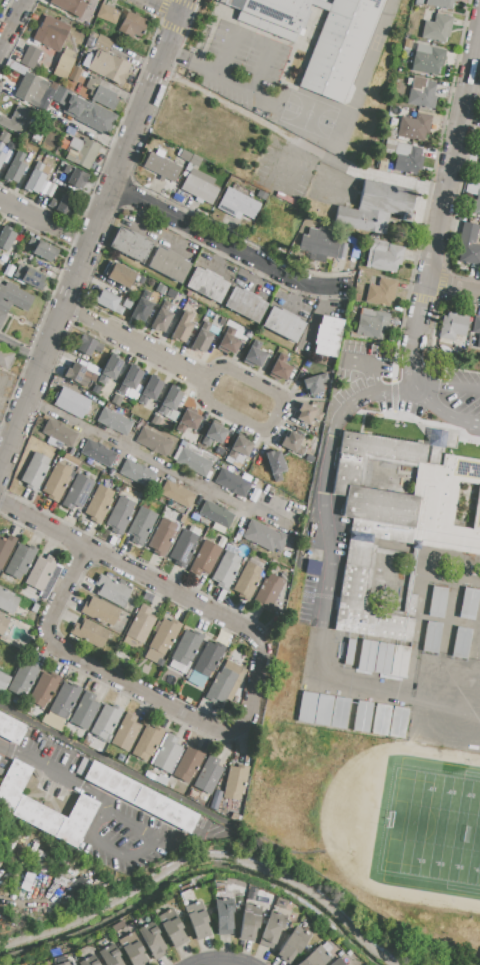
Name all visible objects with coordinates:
building: (440, 4)
building: (70, 6)
road: (164, 8)
building: (107, 13)
road: (12, 23)
building: (132, 24)
building: (437, 28)
building: (51, 33)
building: (317, 36)
road: (255, 41)
building: (407, 43)
building: (103, 44)
building: (30, 58)
road: (183, 60)
building: (428, 60)
building: (64, 63)
building: (15, 66)
building: (109, 68)
building: (75, 74)
road: (227, 83)
building: (52, 86)
building: (31, 89)
building: (100, 92)
building: (421, 93)
building: (86, 112)
road: (351, 117)
building: (17, 120)
building: (414, 127)
building: (70, 131)
building: (3, 139)
building: (389, 146)
building: (83, 152)
building: (184, 155)
building: (1, 157)
building: (407, 159)
building: (195, 160)
road: (455, 162)
building: (382, 166)
building: (14, 167)
building: (161, 167)
building: (75, 177)
building: (479, 177)
building: (34, 178)
building: (199, 185)
building: (470, 188)
building: (476, 203)
building: (237, 204)
building: (62, 206)
building: (372, 206)
road: (44, 223)
road: (94, 234)
building: (6, 238)
building: (319, 243)
building: (129, 244)
building: (468, 245)
road: (230, 247)
building: (42, 249)
building: (384, 255)
building: (169, 264)
building: (119, 274)
building: (30, 278)
building: (141, 280)
building: (207, 284)
road: (455, 287)
building: (160, 289)
building: (381, 292)
building: (12, 299)
building: (107, 302)
building: (127, 303)
building: (245, 304)
building: (141, 306)
building: (162, 318)
road: (422, 318)
building: (372, 323)
building: (283, 324)
building: (476, 325)
building: (453, 326)
building: (182, 327)
building: (327, 336)
building: (202, 339)
building: (228, 341)
building: (479, 342)
road: (137, 344)
building: (88, 346)
road: (13, 347)
building: (254, 355)
building: (4, 357)
road: (36, 359)
road: (369, 361)
building: (280, 368)
building: (109, 370)
building: (75, 375)
building: (130, 380)
building: (314, 384)
road: (421, 385)
parking lot: (411, 389)
building: (149, 391)
road: (452, 393)
building: (116, 400)
building: (70, 403)
building: (167, 405)
road: (392, 410)
building: (307, 414)
road: (275, 415)
road: (455, 419)
building: (187, 421)
building: (114, 422)
building: (58, 432)
building: (213, 435)
building: (153, 441)
building: (293, 444)
building: (240, 448)
building: (98, 453)
building: (309, 458)
road: (153, 460)
building: (193, 462)
building: (275, 464)
building: (35, 472)
building: (137, 473)
building: (58, 480)
building: (232, 482)
building: (77, 492)
building: (177, 495)
building: (99, 504)
building: (120, 513)
building: (216, 514)
building: (396, 523)
road: (315, 524)
road: (43, 525)
building: (141, 525)
building: (264, 536)
building: (162, 538)
building: (184, 548)
building: (5, 550)
building: (205, 558)
building: (19, 562)
building: (226, 570)
building: (40, 574)
building: (247, 581)
road: (64, 590)
building: (111, 590)
road: (173, 590)
building: (268, 591)
building: (7, 602)
building: (437, 602)
building: (467, 603)
building: (100, 611)
building: (3, 624)
building: (140, 626)
building: (89, 633)
building: (164, 635)
building: (431, 637)
building: (461, 643)
building: (186, 647)
building: (366, 656)
building: (382, 658)
building: (400, 661)
building: (206, 662)
building: (24, 676)
road: (255, 679)
building: (3, 681)
road: (345, 682)
building: (226, 683)
building: (44, 689)
road: (144, 691)
building: (64, 700)
building: (306, 707)
building: (322, 709)
building: (84, 710)
building: (361, 716)
building: (380, 719)
building: (53, 721)
building: (105, 721)
building: (397, 722)
building: (11, 730)
building: (126, 731)
building: (148, 742)
building: (167, 752)
building: (0, 757)
building: (189, 763)
road: (119, 767)
road: (54, 772)
building: (209, 775)
building: (162, 779)
building: (235, 782)
building: (140, 797)
building: (43, 808)
park: (429, 829)
road: (136, 852)
road: (203, 861)
building: (224, 917)
building: (198, 920)
building: (249, 922)
building: (172, 928)
building: (272, 929)
building: (151, 940)
building: (293, 945)
building: (132, 950)
building: (317, 955)
building: (110, 956)
road: (210, 960)
building: (89, 961)
road: (235, 962)
building: (337, 962)
building: (66, 963)

